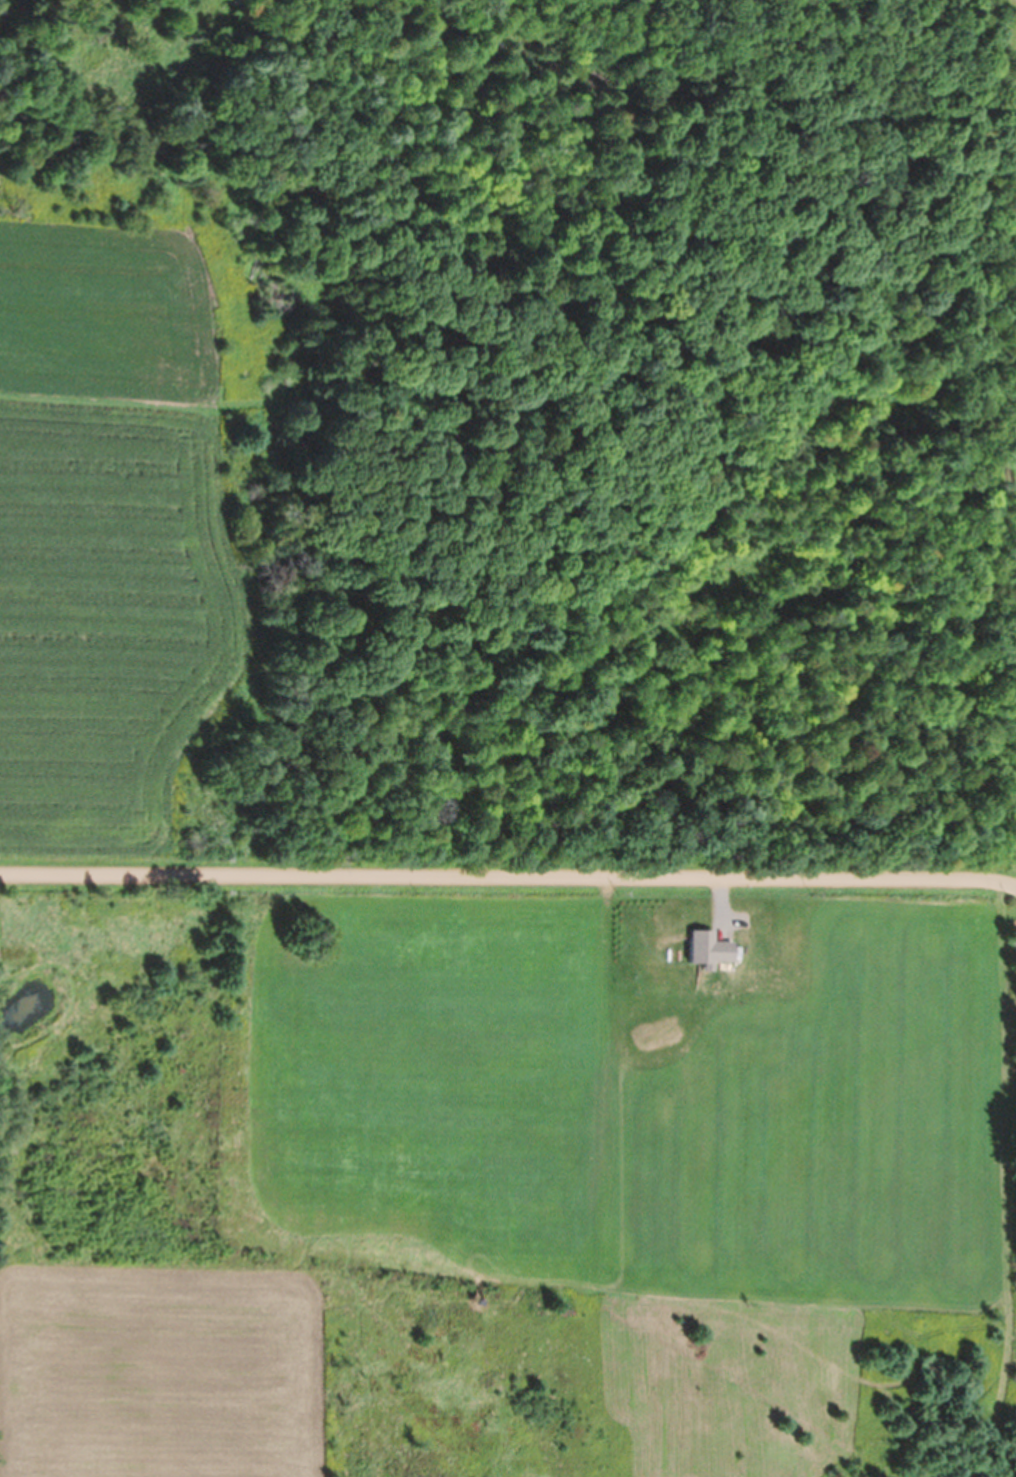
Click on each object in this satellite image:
road: (508, 872)

